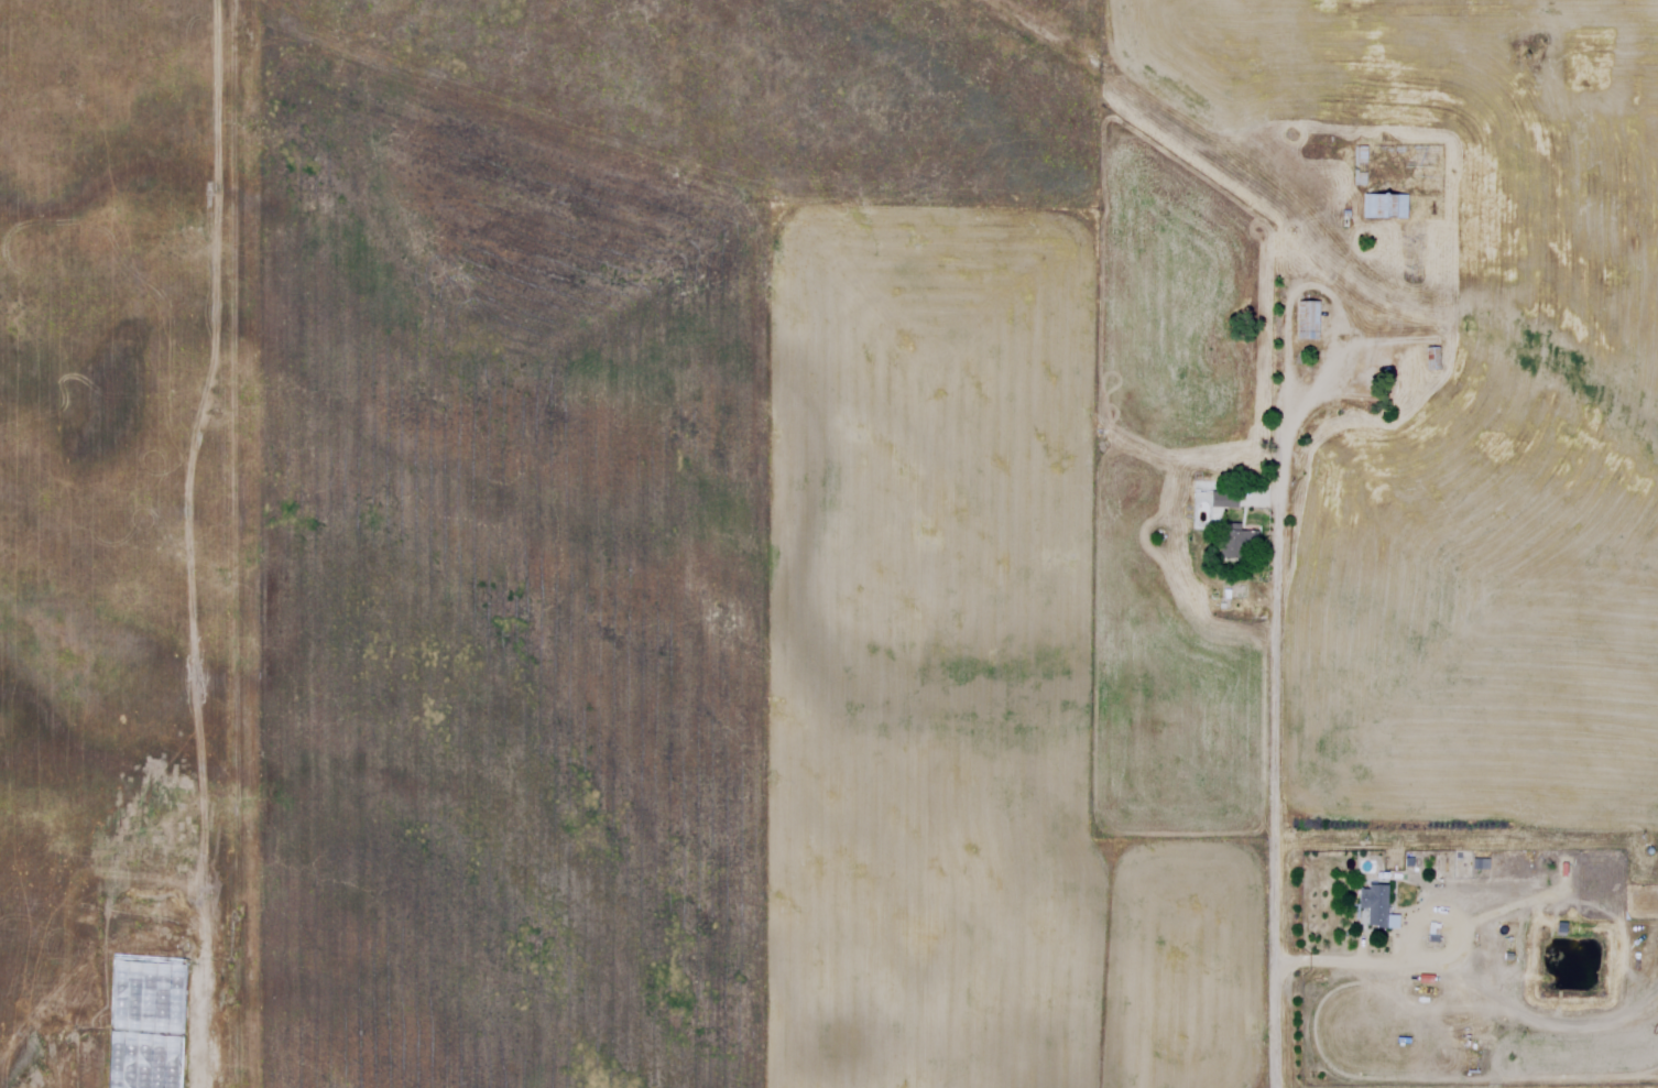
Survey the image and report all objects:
building: (1387, 208)
building: (1310, 322)
building: (1226, 501)
building: (1247, 546)
road: (1275, 660)
building: (1377, 906)
building: (1471, 1065)

